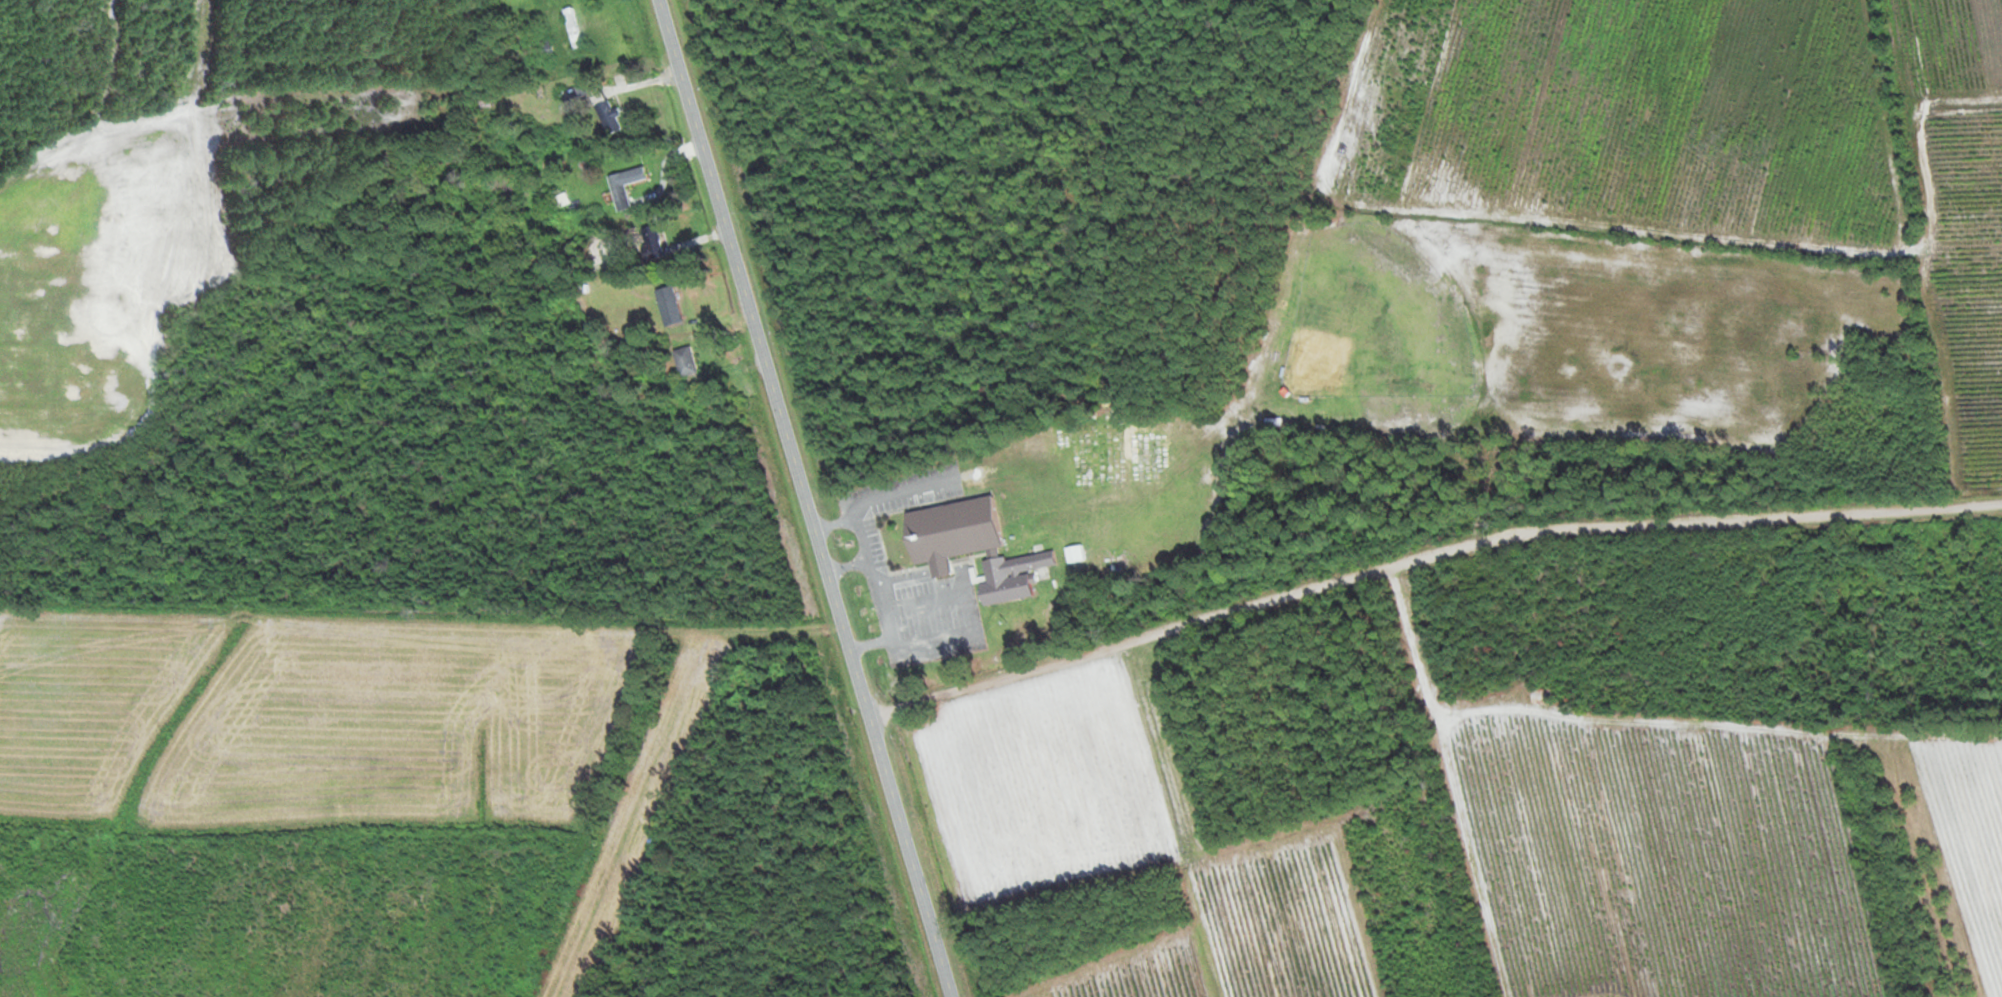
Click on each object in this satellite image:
building: (570, 28)
building: (574, 99)
building: (483, 105)
building: (604, 111)
building: (617, 189)
building: (647, 243)
building: (667, 306)
building: (683, 362)
building: (1271, 423)
road: (807, 498)
building: (968, 548)
building: (1073, 554)
road: (1428, 562)
building: (1540, 695)

